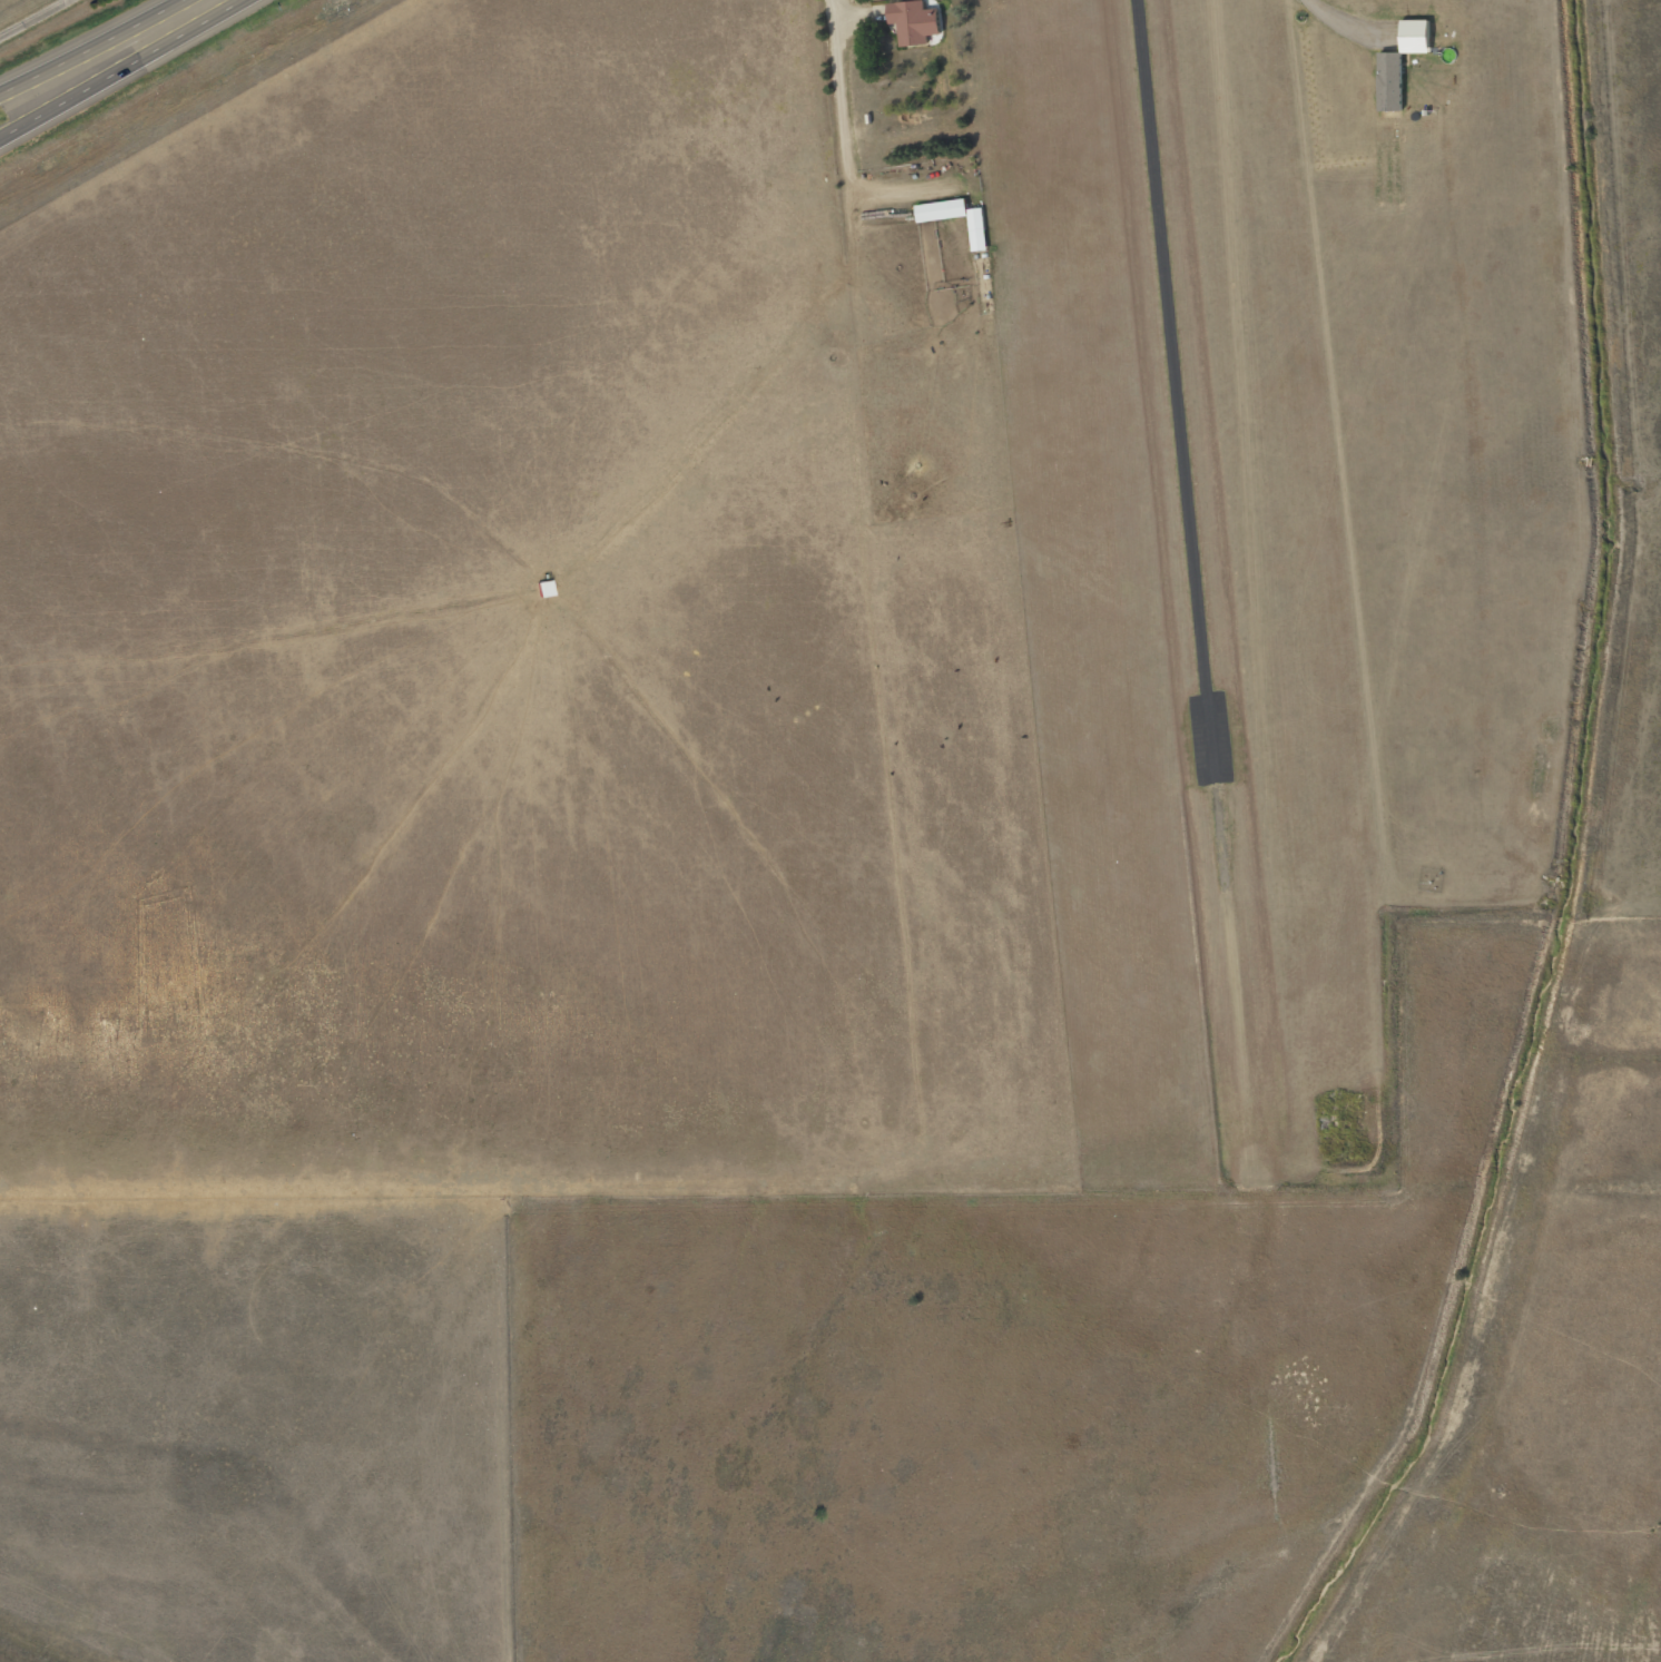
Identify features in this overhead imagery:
building: (912, 21)
building: (1412, 35)
road: (130, 46)
building: (1387, 80)
road: (23, 92)
road: (24, 117)
building: (940, 209)
building: (976, 228)

